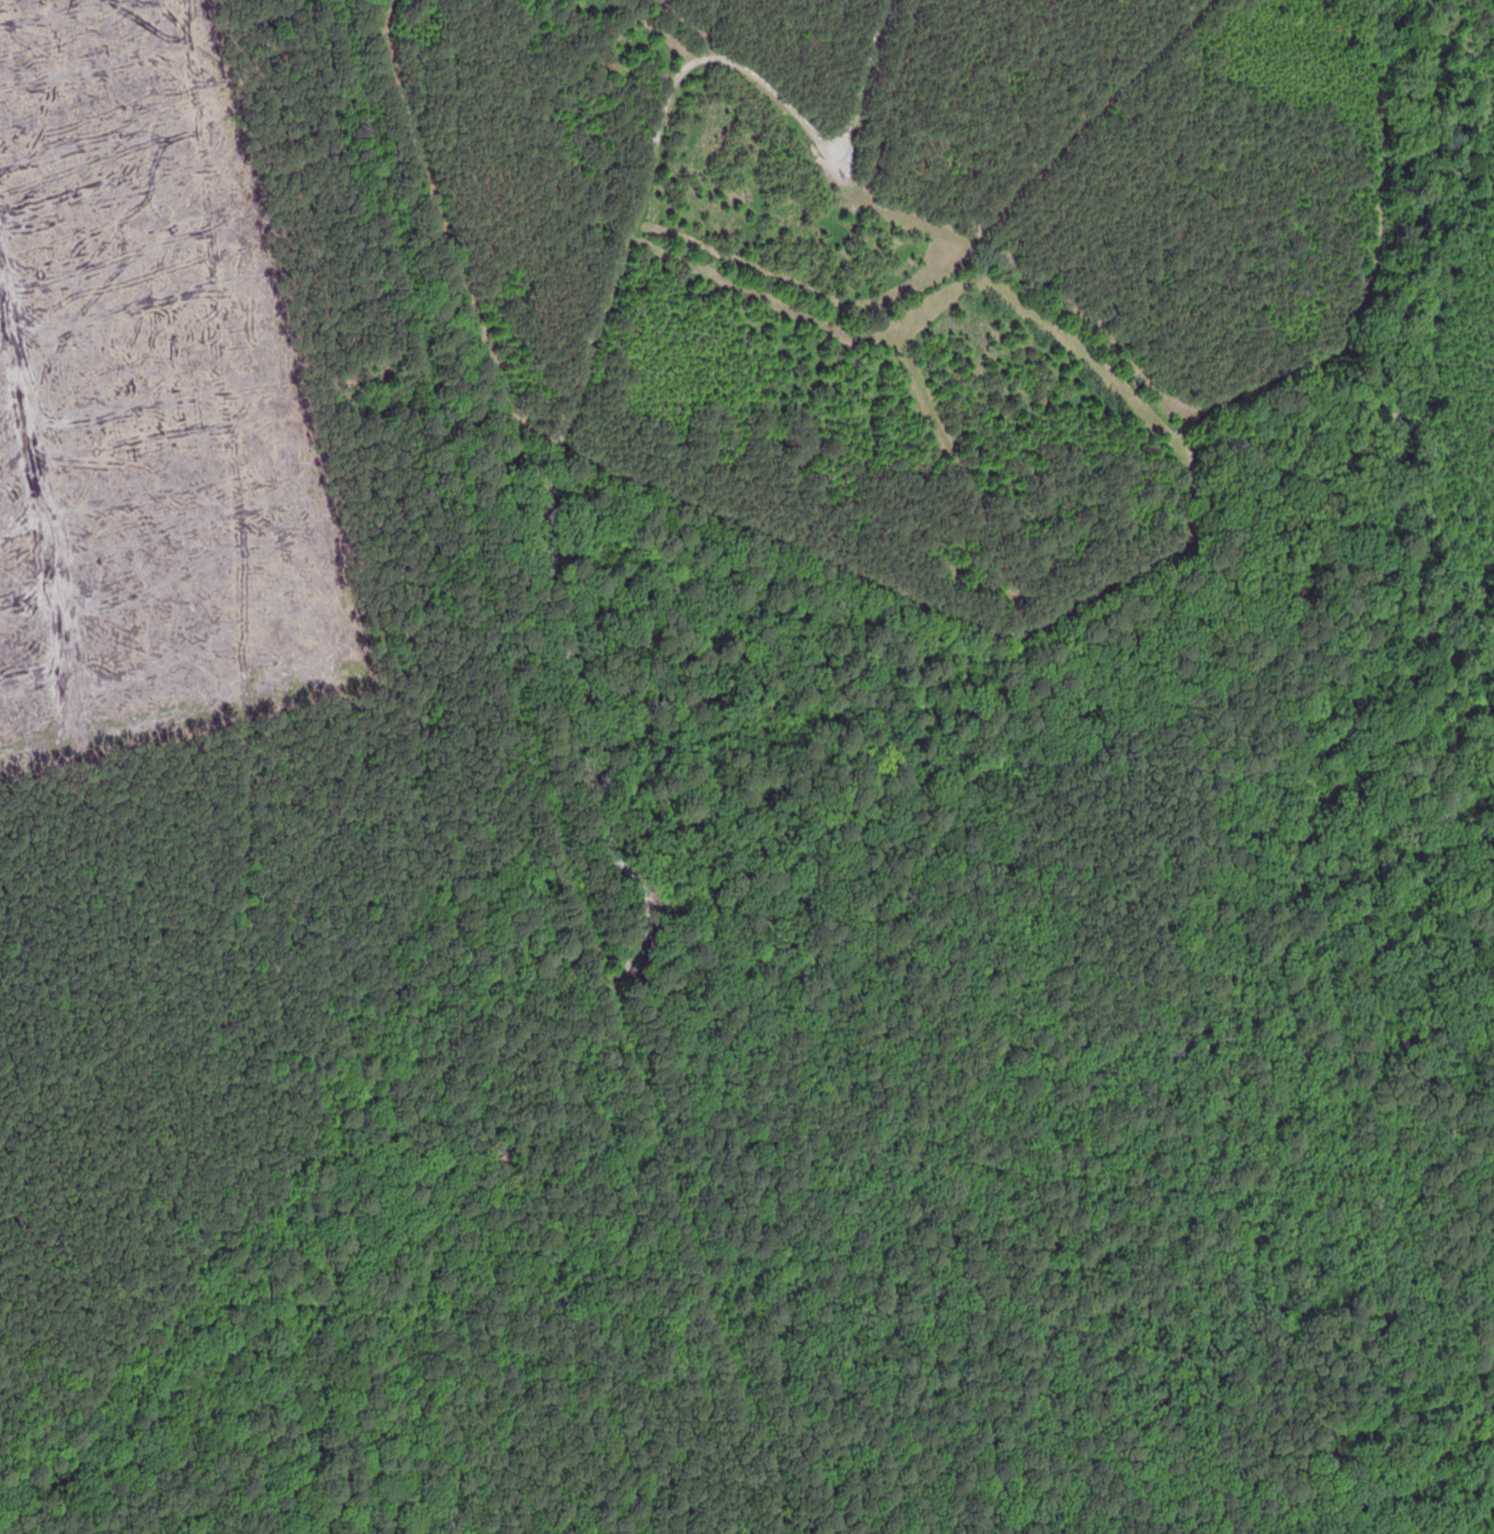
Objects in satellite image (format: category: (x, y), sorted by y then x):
park: (914, 363)
road: (567, 771)
road: (678, 1038)
park: (924, 1160)

